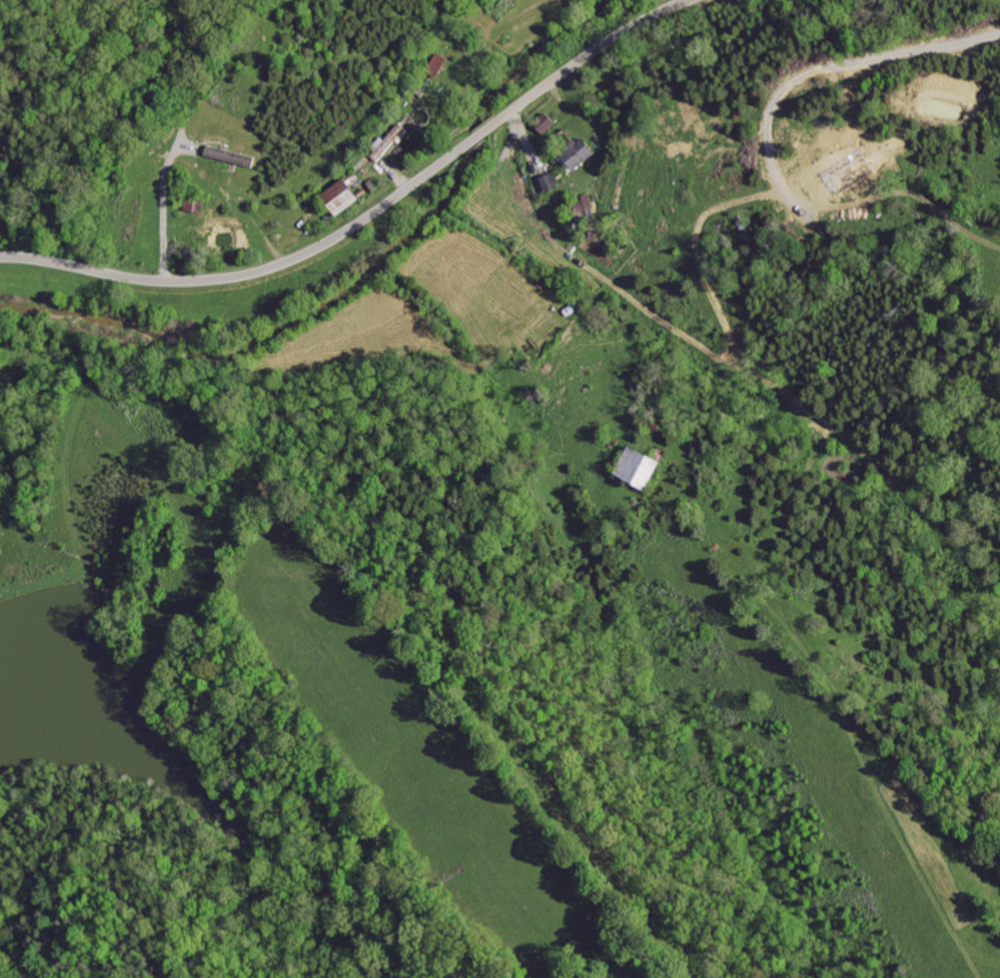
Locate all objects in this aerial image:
building: (437, 65)
building: (398, 134)
building: (579, 153)
building: (232, 155)
building: (344, 195)
road: (164, 208)
road: (370, 215)

